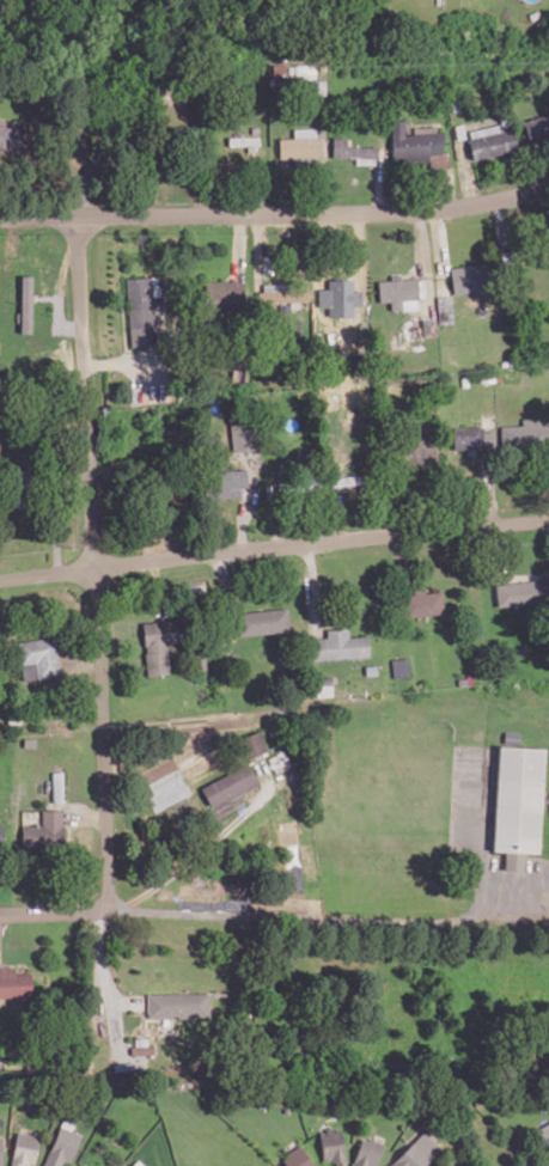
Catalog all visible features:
building: (305, 71)
building: (317, 87)
building: (537, 128)
building: (13, 139)
building: (492, 140)
building: (299, 145)
building: (417, 145)
building: (353, 151)
road: (275, 215)
building: (470, 277)
building: (222, 292)
building: (399, 293)
building: (281, 294)
building: (340, 297)
building: (25, 304)
building: (444, 309)
building: (141, 310)
building: (283, 312)
building: (428, 328)
building: (525, 433)
building: (243, 435)
building: (472, 438)
building: (417, 451)
building: (227, 483)
road: (92, 524)
road: (274, 547)
street lamp: (287, 556)
road: (312, 588)
building: (521, 592)
building: (422, 602)
building: (262, 621)
building: (338, 645)
building: (157, 647)
building: (38, 658)
building: (199, 663)
building: (401, 667)
building: (324, 685)
building: (252, 744)
building: (228, 785)
building: (517, 804)
building: (44, 831)
road: (176, 866)
road: (43, 912)
road: (323, 915)
building: (13, 982)
road: (105, 983)
road: (123, 1001)
building: (177, 1003)
building: (142, 1049)
building: (544, 1134)
building: (62, 1146)
building: (331, 1146)
building: (24, 1149)
building: (1, 1150)
building: (366, 1152)
building: (416, 1152)
building: (295, 1158)
building: (80, 1165)
building: (133, 1165)

